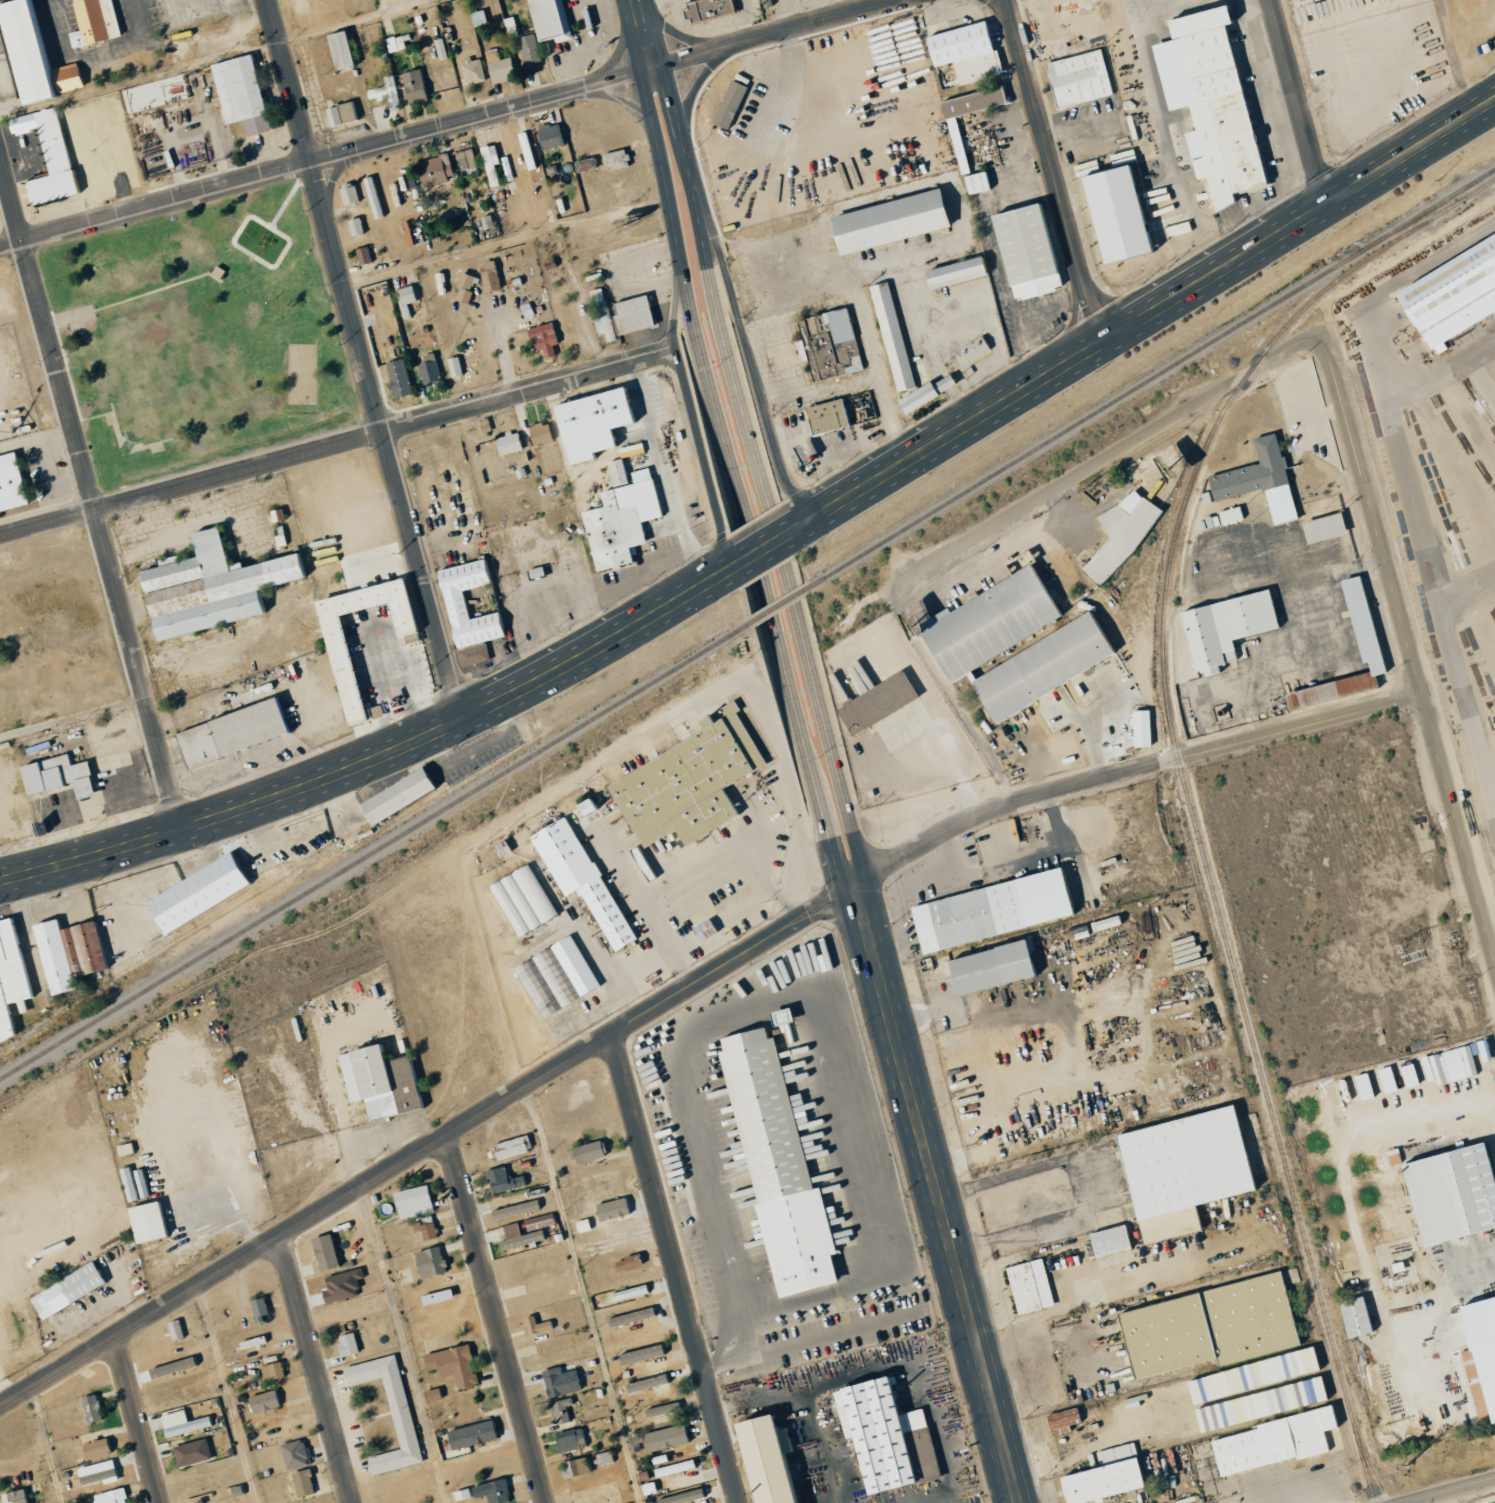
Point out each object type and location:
building: (763, 3)
building: (704, 9)
building: (554, 19)
building: (98, 22)
road: (643, 38)
building: (398, 43)
building: (532, 49)
building: (348, 50)
building: (963, 52)
building: (501, 67)
building: (474, 71)
building: (1077, 79)
building: (415, 88)
building: (388, 93)
building: (246, 94)
building: (146, 95)
road: (1298, 101)
building: (1207, 102)
building: (727, 104)
building: (345, 114)
building: (77, 121)
road: (444, 123)
building: (553, 136)
building: (955, 144)
building: (53, 155)
building: (621, 160)
building: (589, 165)
building: (494, 167)
building: (437, 170)
road: (1055, 172)
building: (974, 182)
building: (352, 194)
railway: (1439, 207)
building: (1111, 212)
building: (359, 227)
building: (366, 256)
building: (493, 277)
building: (913, 287)
building: (470, 288)
building: (1448, 293)
building: (409, 300)
road: (713, 304)
road: (689, 313)
road: (1147, 314)
building: (639, 315)
building: (608, 326)
park: (199, 334)
building: (548, 339)
building: (830, 344)
road: (751, 356)
road: (365, 359)
building: (458, 368)
building: (432, 370)
railway: (1148, 378)
building: (402, 379)
road: (690, 412)
building: (824, 417)
building: (598, 425)
building: (545, 434)
road: (336, 442)
building: (513, 443)
road: (1108, 455)
road: (666, 475)
building: (1256, 480)
building: (14, 484)
road: (90, 495)
building: (1228, 515)
building: (627, 518)
building: (1322, 527)
building: (1120, 533)
road: (769, 546)
building: (172, 561)
building: (217, 589)
railway: (777, 606)
railway: (1079, 609)
building: (463, 615)
building: (1358, 620)
building: (356, 622)
building: (1223, 629)
building: (968, 641)
road: (1408, 650)
building: (356, 679)
building: (418, 683)
road: (818, 702)
building: (874, 703)
road: (794, 712)
building: (1139, 728)
building: (239, 734)
road: (383, 755)
building: (65, 777)
railway: (1183, 782)
building: (685, 783)
building: (406, 795)
railway: (375, 850)
building: (578, 878)
building: (206, 892)
road: (791, 894)
building: (520, 900)
road: (751, 905)
railway: (228, 909)
building: (988, 910)
railway: (192, 925)
building: (701, 930)
building: (74, 954)
building: (986, 968)
building: (554, 977)
building: (13, 983)
road: (684, 989)
railway: (42, 1022)
building: (1466, 1060)
building: (385, 1082)
building: (510, 1147)
building: (586, 1151)
building: (774, 1166)
building: (1179, 1170)
building: (501, 1180)
road: (933, 1185)
building: (1448, 1194)
building: (411, 1201)
building: (611, 1208)
building: (514, 1209)
building: (154, 1223)
building: (535, 1225)
building: (423, 1227)
building: (520, 1238)
building: (1107, 1241)
building: (322, 1252)
building: (428, 1261)
road: (674, 1268)
building: (1027, 1287)
building: (73, 1291)
building: (627, 1293)
road: (584, 1294)
building: (434, 1296)
building: (257, 1309)
building: (1352, 1317)
road: (497, 1318)
building: (533, 1324)
building: (1206, 1327)
building: (173, 1329)
building: (250, 1342)
building: (345, 1344)
road: (403, 1344)
building: (1481, 1349)
building: (638, 1354)
building: (1304, 1360)
building: (452, 1365)
building: (171, 1367)
road: (315, 1369)
building: (270, 1370)
building: (559, 1381)
building: (646, 1382)
road: (226, 1394)
building: (431, 1395)
building: (1293, 1395)
building: (262, 1401)
building: (91, 1407)
building: (661, 1409)
building: (562, 1410)
building: (378, 1413)
road: (137, 1419)
building: (1061, 1421)
building: (184, 1426)
building: (470, 1434)
building: (664, 1437)
building: (883, 1437)
building: (569, 1439)
building: (1270, 1442)
road: (43, 1445)
building: (94, 1448)
building: (190, 1452)
building: (293, 1453)
building: (603, 1458)
building: (760, 1459)
power tower: (1407, 1464)
building: (573, 1467)
railway: (1370, 1471)
building: (98, 1476)
building: (1102, 1476)
building: (301, 1482)
road: (1445, 1490)
building: (491, 1491)
building: (461, 1493)
building: (13, 1496)
building: (109, 1496)
building: (681, 1497)
building: (209, 1501)

